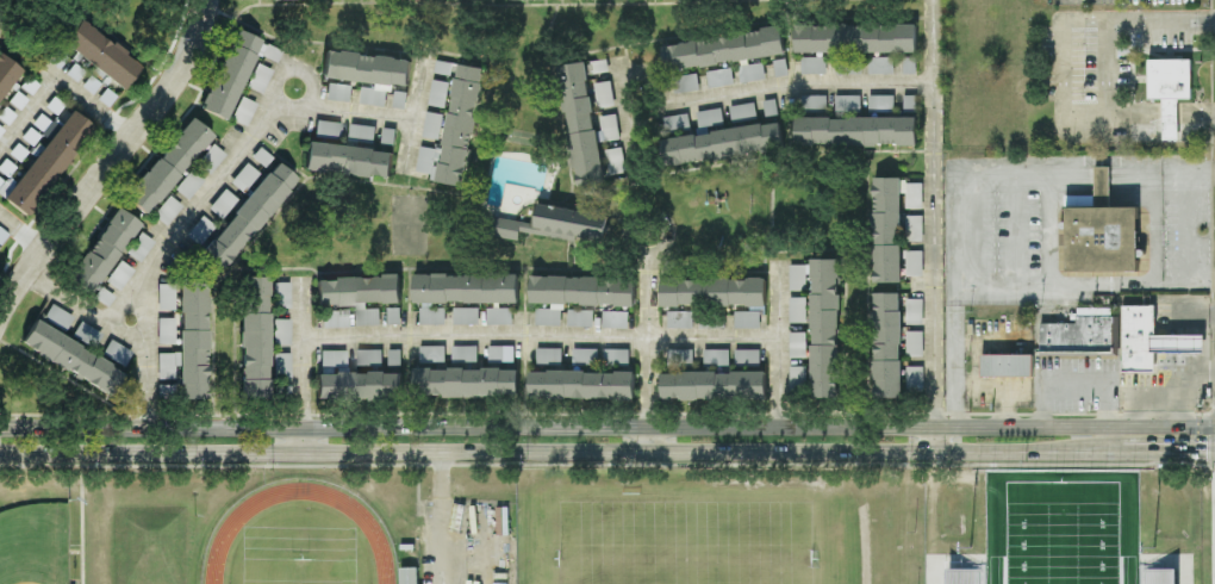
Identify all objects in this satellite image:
building: (855, 38)
building: (723, 49)
building: (100, 54)
building: (814, 66)
building: (848, 66)
building: (881, 66)
building: (263, 67)
building: (443, 68)
building: (367, 73)
building: (752, 73)
building: (230, 74)
road: (1105, 74)
road: (1064, 75)
building: (719, 79)
road: (780, 80)
road: (57, 82)
building: (685, 83)
building: (1170, 89)
building: (11, 91)
building: (338, 92)
building: (438, 94)
building: (605, 94)
road: (627, 94)
building: (400, 99)
building: (814, 102)
building: (881, 102)
building: (848, 104)
road: (341, 105)
building: (244, 111)
road: (412, 111)
building: (743, 112)
building: (710, 118)
building: (677, 123)
building: (581, 124)
building: (432, 125)
building: (328, 128)
building: (610, 128)
building: (455, 131)
building: (856, 131)
building: (362, 132)
building: (388, 136)
building: (722, 144)
building: (39, 155)
building: (348, 160)
road: (113, 161)
building: (616, 161)
building: (168, 166)
building: (250, 169)
building: (199, 172)
road: (1147, 173)
road: (1102, 174)
road: (1200, 175)
road: (216, 180)
building: (915, 195)
building: (223, 203)
building: (167, 210)
building: (248, 217)
road: (24, 224)
building: (559, 224)
road: (934, 225)
building: (915, 228)
road: (1185, 229)
building: (200, 230)
building: (887, 230)
building: (1102, 232)
building: (139, 247)
building: (105, 259)
building: (915, 263)
road: (966, 279)
road: (1201, 284)
building: (466, 288)
building: (714, 292)
building: (282, 294)
building: (578, 294)
building: (166, 296)
building: (359, 296)
road: (85, 306)
building: (798, 310)
building: (915, 311)
building: (393, 316)
building: (432, 316)
building: (466, 316)
building: (499, 316)
building: (55, 317)
road: (1200, 317)
building: (335, 318)
building: (580, 318)
building: (615, 319)
building: (680, 319)
building: (747, 319)
road: (650, 321)
building: (822, 322)
building: (166, 330)
building: (281, 330)
building: (87, 333)
building: (1083, 334)
road: (540, 335)
building: (255, 337)
building: (1149, 340)
gas station: (1149, 340)
building: (189, 342)
road: (779, 343)
building: (915, 343)
building: (798, 344)
road: (1198, 344)
building: (887, 346)
road: (147, 349)
building: (116, 354)
building: (432, 354)
building: (465, 354)
building: (501, 354)
road: (955, 354)
building: (549, 356)
building: (585, 356)
building: (748, 356)
building: (71, 358)
building: (332, 358)
building: (369, 358)
building: (394, 358)
building: (617, 358)
building: (680, 358)
building: (716, 358)
road: (1198, 364)
road: (300, 365)
building: (1007, 365)
building: (282, 366)
road: (1190, 375)
building: (798, 378)
building: (915, 378)
building: (466, 381)
building: (581, 385)
building: (714, 385)
building: (360, 386)
road: (1074, 386)
building: (168, 390)
building: (282, 391)
road: (1160, 394)
road: (325, 427)
road: (933, 427)
road: (650, 437)
road: (890, 451)
road: (324, 452)
road: (1172, 452)
traffic signals: (1204, 452)
road: (442, 517)
park: (1064, 529)
track: (374, 534)
park: (687, 538)
parking lot: (466, 541)
park: (35, 545)
park: (299, 571)
building: (409, 576)
building: (966, 577)
building: (1159, 577)

